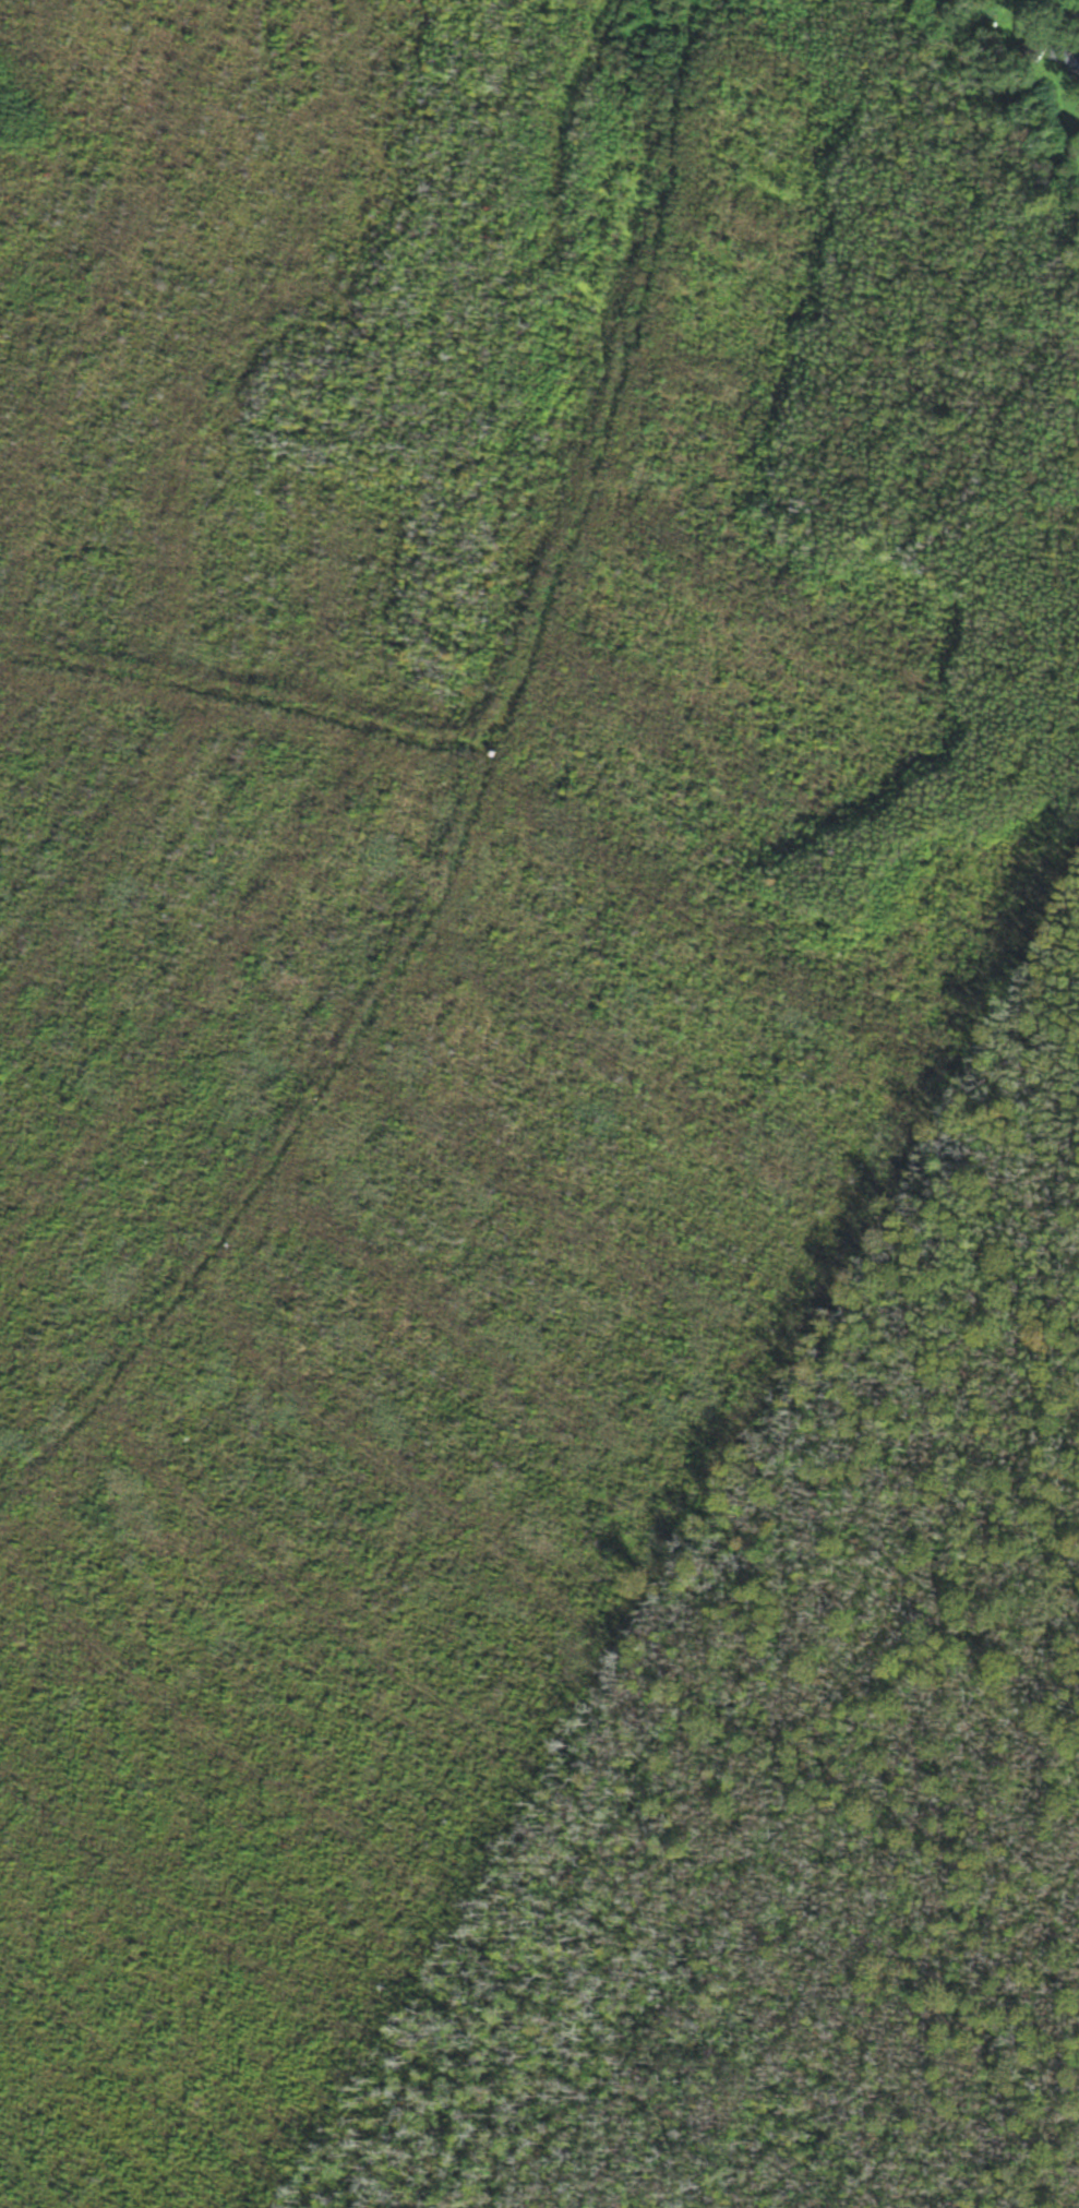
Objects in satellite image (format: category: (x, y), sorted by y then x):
building: (1034, 47)
building: (1066, 55)

